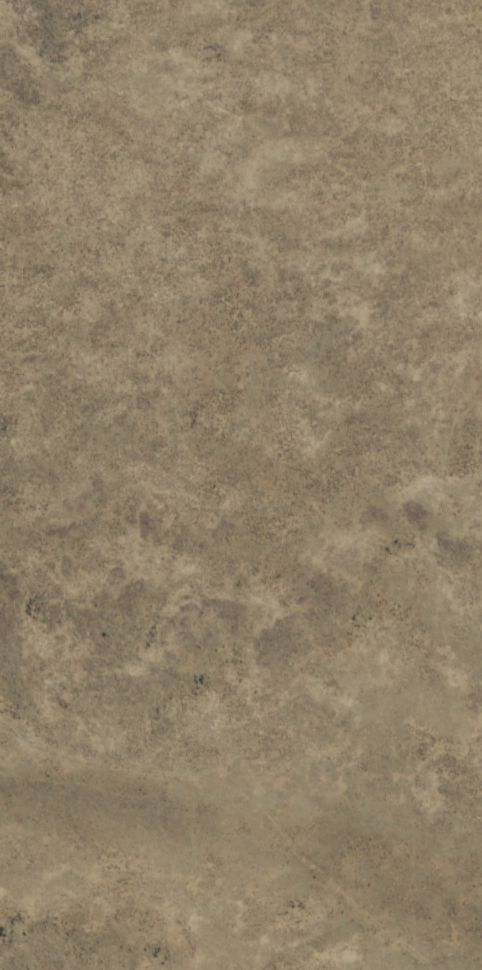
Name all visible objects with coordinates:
road: (233, 800)

